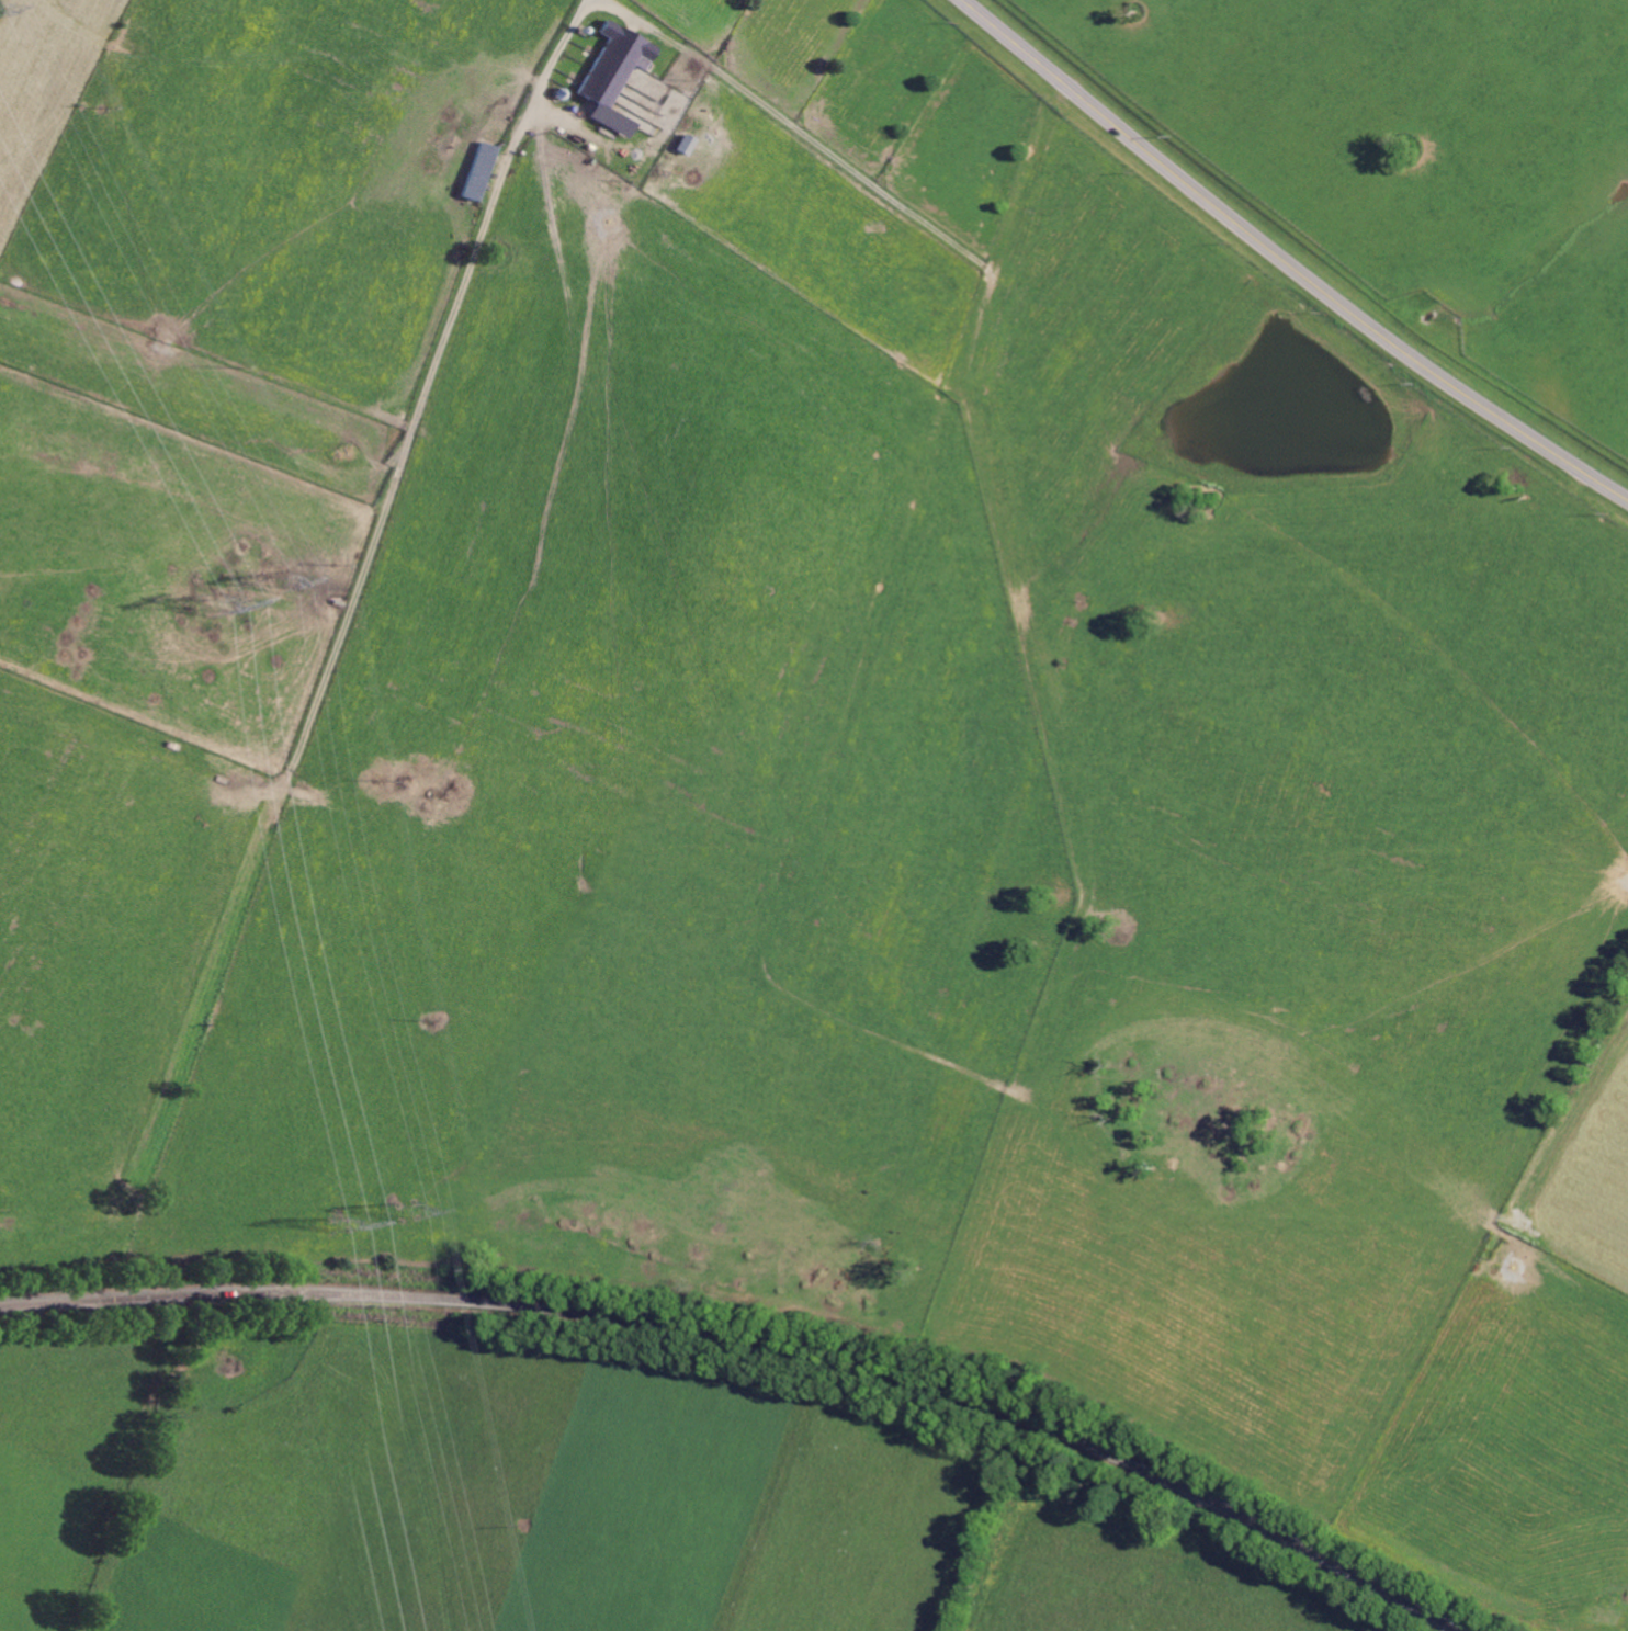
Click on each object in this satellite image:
power tower: (0, 8)
building: (632, 84)
road: (541, 86)
building: (687, 144)
road: (1286, 262)
road: (1190, 319)
power tower: (292, 582)
power tower: (221, 603)
power tower: (415, 1210)
power tower: (350, 1226)
railway: (128, 1305)
railway: (762, 1338)

